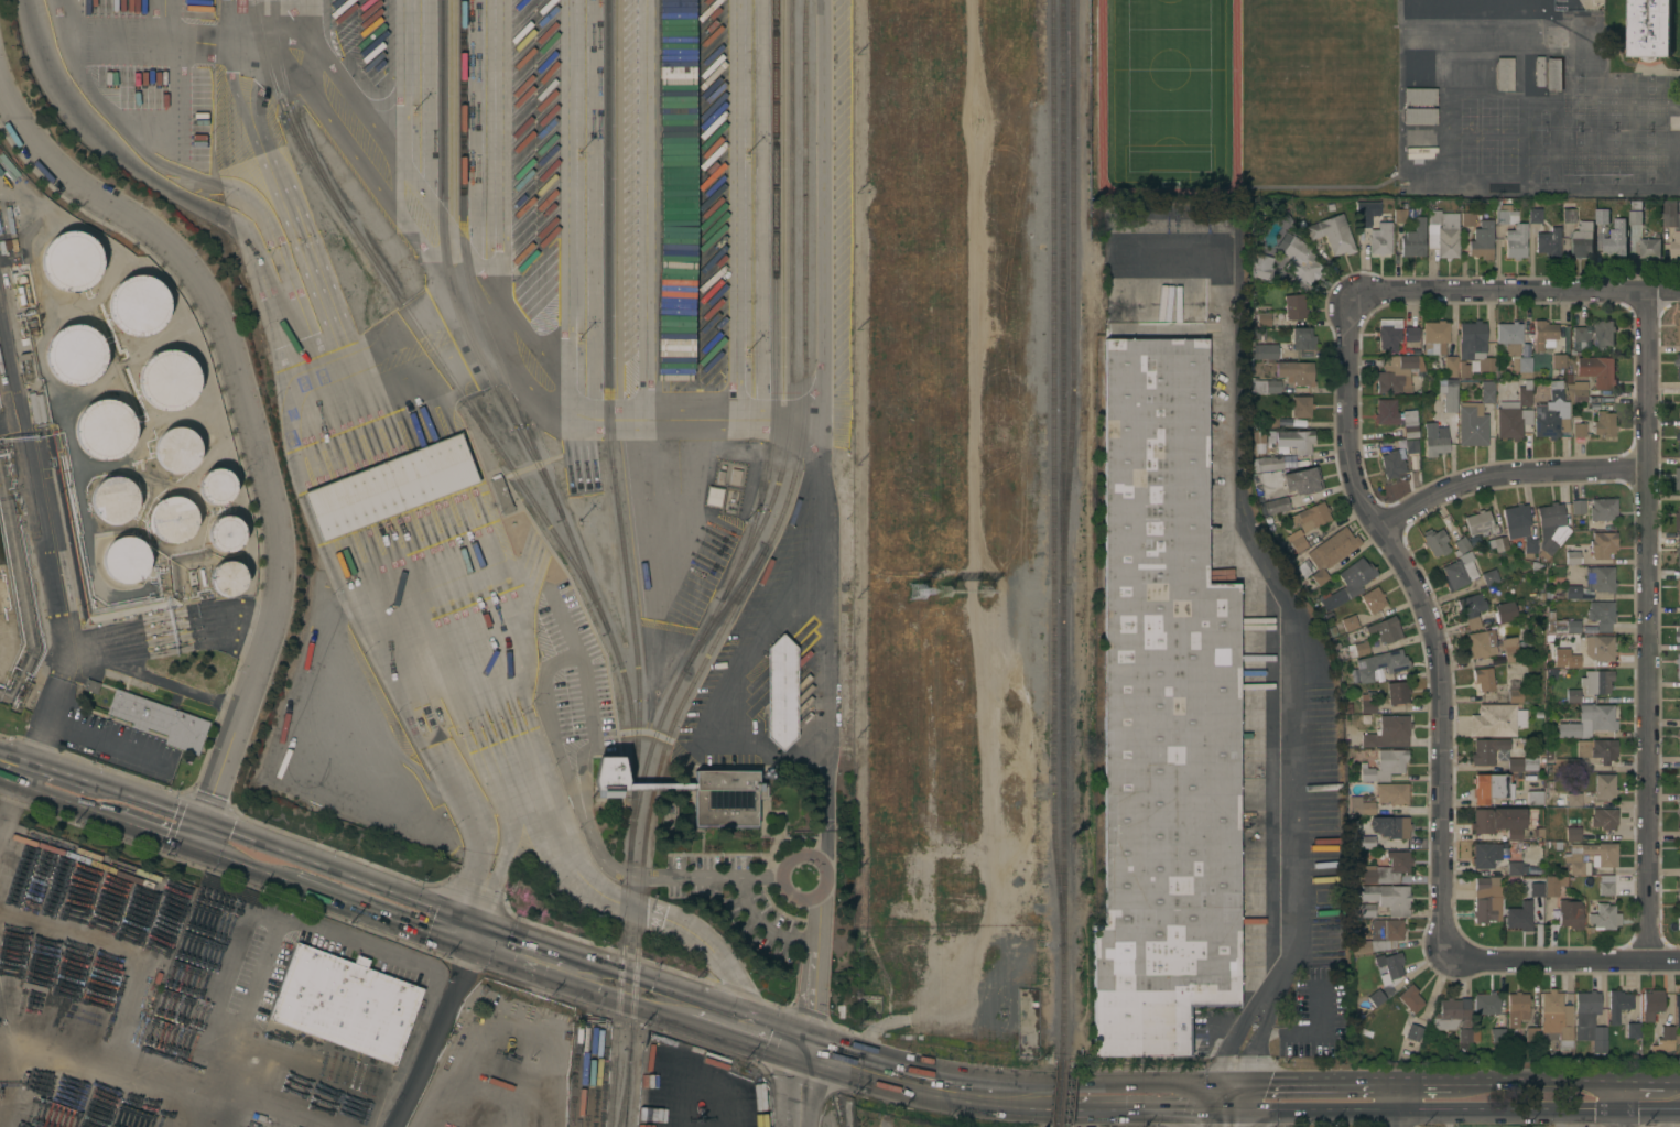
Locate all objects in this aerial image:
building: (676, 4)
building: (705, 4)
building: (1481, 8)
road: (163, 22)
road: (1491, 22)
road: (235, 23)
building: (1648, 29)
road: (312, 37)
building: (1474, 39)
road: (131, 43)
building: (705, 47)
building: (676, 50)
building: (1592, 50)
building: (1418, 68)
building: (1538, 72)
building: (1504, 74)
building: (1553, 74)
building: (1470, 75)
building: (1419, 96)
road: (397, 102)
railway: (286, 110)
building: (1419, 116)
building: (705, 121)
building: (676, 123)
building: (1419, 138)
building: (1418, 153)
road: (500, 170)
building: (1438, 183)
building: (705, 196)
road: (571, 197)
building: (675, 198)
road: (734, 212)
road: (655, 213)
building: (1504, 214)
building: (1399, 216)
building: (1533, 216)
building: (1568, 216)
building: (1602, 216)
building: (1636, 217)
building: (1466, 219)
building: (1672, 225)
building: (1377, 231)
building: (1442, 232)
building: (1332, 235)
building: (1582, 239)
building: (1413, 240)
building: (1482, 240)
building: (1515, 241)
building: (1548, 242)
building: (1614, 242)
building: (1650, 246)
building: (1298, 258)
railway: (466, 260)
building: (71, 261)
building: (1260, 266)
building: (705, 272)
building: (676, 273)
railway: (1070, 291)
railway: (777, 294)
road: (1517, 294)
building: (138, 305)
building: (1293, 306)
railway: (411, 314)
building: (1262, 319)
road: (477, 321)
building: (1678, 328)
building: (705, 329)
building: (1603, 333)
building: (1388, 335)
building: (1543, 335)
building: (1410, 337)
building: (1509, 337)
building: (1301, 338)
building: (1580, 339)
building: (1474, 344)
building: (1439, 346)
building: (1265, 351)
building: (75, 355)
building: (1678, 364)
building: (1557, 366)
building: (1521, 367)
building: (1463, 369)
building: (1596, 371)
building: (1296, 372)
building: (1397, 373)
building: (167, 380)
building: (1265, 387)
building: (1575, 391)
building: (1556, 392)
building: (1519, 397)
railway: (609, 399)
building: (1450, 399)
building: (1300, 407)
building: (36, 409)
road: (353, 412)
building: (1386, 412)
building: (1474, 419)
building: (1269, 421)
road: (256, 422)
building: (1511, 422)
building: (1548, 423)
building: (1409, 424)
building: (1604, 424)
building: (105, 430)
building: (1579, 431)
railway: (522, 433)
road: (822, 433)
building: (1257, 436)
building: (1269, 437)
building: (1294, 440)
building: (1679, 440)
building: (1434, 444)
building: (1411, 446)
railway: (788, 447)
building: (176, 449)
building: (1271, 463)
building: (1391, 464)
railway: (1050, 473)
road: (1510, 473)
building: (1678, 478)
building: (1302, 481)
building: (216, 487)
building: (390, 487)
building: (500, 496)
building: (713, 496)
building: (113, 500)
building: (1273, 506)
building: (1576, 507)
building: (1602, 509)
building: (1310, 517)
building: (1678, 519)
building: (173, 520)
building: (1480, 523)
building: (1519, 528)
building: (1550, 528)
railway: (777, 530)
railway: (1060, 530)
building: (225, 534)
building: (1434, 542)
building: (1297, 543)
building: (1498, 543)
building: (1602, 544)
building: (1460, 545)
road: (48, 549)
building: (1330, 552)
building: (1572, 553)
building: (1678, 554)
building: (124, 560)
building: (1304, 570)
building: (1459, 571)
building: (1489, 577)
building: (227, 578)
building: (1600, 579)
building: (1347, 584)
power tower: (943, 589)
building: (1678, 589)
building: (1572, 592)
power tower: (917, 594)
power tower: (956, 594)
power tower: (984, 596)
building: (1373, 599)
railway: (730, 605)
building: (1471, 609)
building: (1504, 611)
building: (1601, 615)
road: (1426, 616)
building: (1348, 624)
road: (1649, 626)
building: (1568, 627)
building: (1384, 630)
building: (1678, 635)
building: (1481, 647)
building: (1357, 649)
building: (1509, 649)
building: (1598, 649)
building: (1572, 661)
building: (1679, 663)
building: (1380, 664)
building: (1483, 680)
road: (160, 682)
building: (1596, 682)
building: (1514, 691)
building: (781, 692)
building: (1397, 693)
building: (1572, 696)
building: (1367, 702)
building: (1679, 709)
building: (1162, 714)
building: (159, 720)
building: (1496, 720)
building: (1587, 722)
road: (429, 723)
building: (1679, 729)
building: (1388, 733)
building: (1679, 735)
road: (108, 744)
building: (1596, 749)
building: (1486, 750)
building: (1502, 756)
building: (1515, 765)
building: (1563, 765)
building: (1383, 766)
road: (14, 770)
road: (69, 776)
building: (606, 777)
building: (1679, 780)
building: (658, 787)
building: (1604, 787)
building: (1489, 788)
building: (1391, 793)
road: (9, 797)
building: (1533, 798)
building: (726, 799)
building: (1567, 799)
road: (56, 800)
building: (1679, 806)
road: (590, 817)
building: (1603, 819)
building: (1498, 822)
traffic signals: (203, 824)
building: (1390, 827)
building: (1572, 830)
road: (143, 831)
building: (1365, 842)
building: (1679, 847)
traffic signals: (194, 849)
road: (281, 852)
road: (801, 855)
building: (1485, 855)
building: (1590, 858)
building: (1513, 868)
building: (1387, 869)
road: (1294, 884)
building: (1552, 887)
building: (37, 888)
building: (1535, 889)
building: (1605, 889)
building: (1678, 890)
road: (318, 893)
building: (1388, 898)
building: (1486, 899)
road: (631, 908)
building: (1366, 911)
building: (1518, 915)
building: (1604, 918)
building: (1570, 919)
building: (1678, 921)
traffic signals: (455, 929)
road: (459, 930)
road: (337, 934)
traffic signals: (474, 935)
building: (1378, 936)
railway: (620, 945)
road: (528, 954)
road: (1561, 958)
building: (1389, 966)
road: (816, 974)
road: (635, 990)
road: (446, 998)
building: (1375, 998)
building: (1409, 998)
building: (344, 1004)
building: (1486, 1004)
building: (1617, 1005)
building: (1651, 1005)
building: (1516, 1008)
building: (1677, 1009)
building: (1556, 1018)
building: (1453, 1019)
building: (1589, 1020)
road: (724, 1021)
building: (1633, 1030)
building: (1410, 1031)
building: (1531, 1034)
building: (1497, 1036)
road: (783, 1041)
building: (1663, 1041)
road: (1234, 1042)
road: (1256, 1048)
traffic signals: (809, 1050)
road: (864, 1065)
railway: (614, 1079)
road: (172, 1080)
railway: (627, 1080)
road: (1445, 1082)
road: (1557, 1082)
road: (1649, 1083)
road: (1131, 1084)
road: (1333, 1084)
road: (1679, 1084)
traffic signals: (1213, 1085)
road: (1227, 1085)
traffic signals: (1243, 1086)
road: (1256, 1086)
railway: (625, 1087)
road: (804, 1088)
road: (987, 1093)
railway: (1055, 1093)
road: (403, 1094)
road: (1210, 1098)
road: (1239, 1098)
road: (1621, 1104)
road: (1398, 1105)
road: (195, 1106)
road: (1677, 1112)
road: (1128, 1113)
traffic signals: (1207, 1113)
road: (1222, 1113)
traffic signals: (1237, 1113)
road: (1250, 1113)
road: (1468, 1113)
building: (760, 1119)
road: (1205, 1119)
road: (1236, 1119)

